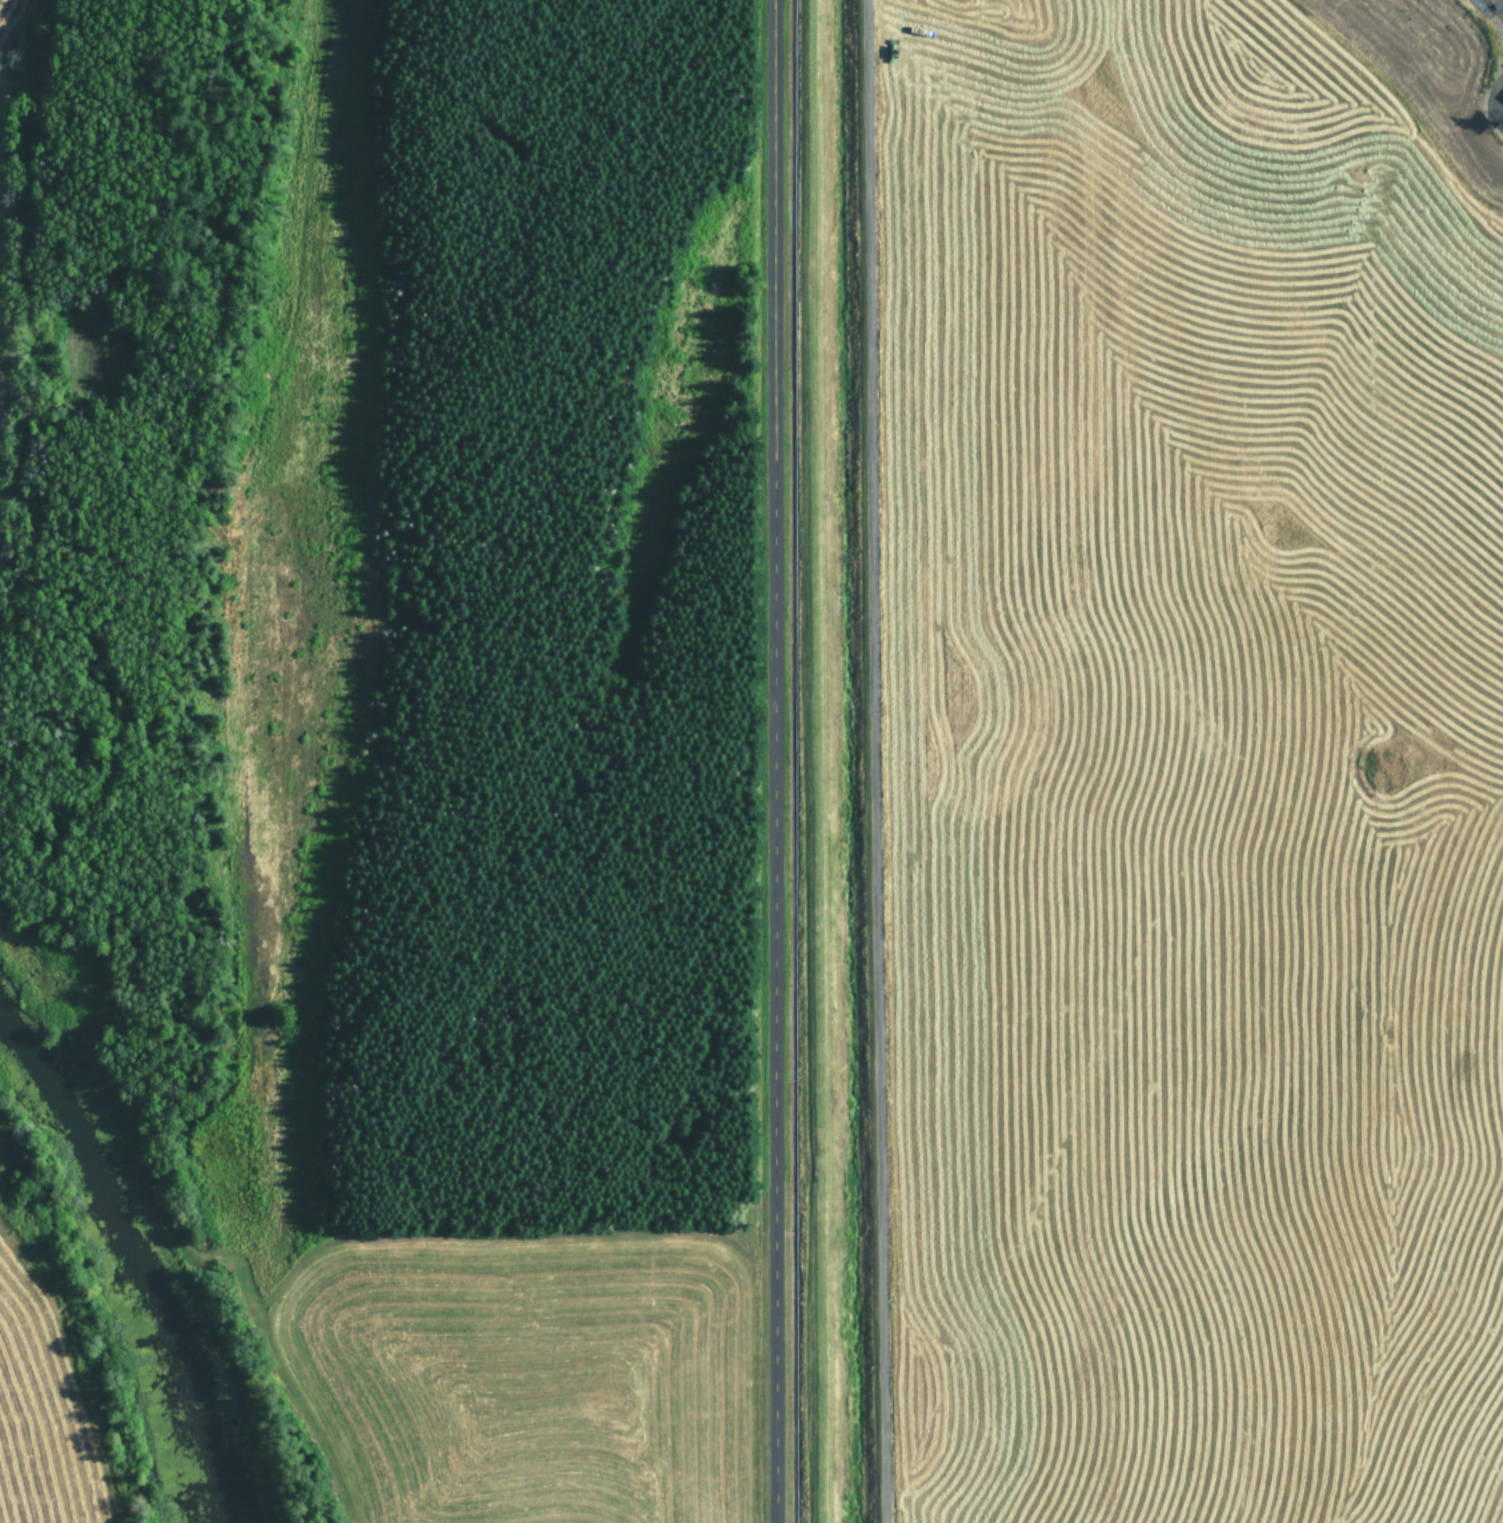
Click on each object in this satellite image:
parking lot: (5, 81)
crop: (1199, 760)
road: (773, 761)
road: (875, 761)
airport: (1129, 761)
crop: (55, 1362)
crop: (519, 1378)

